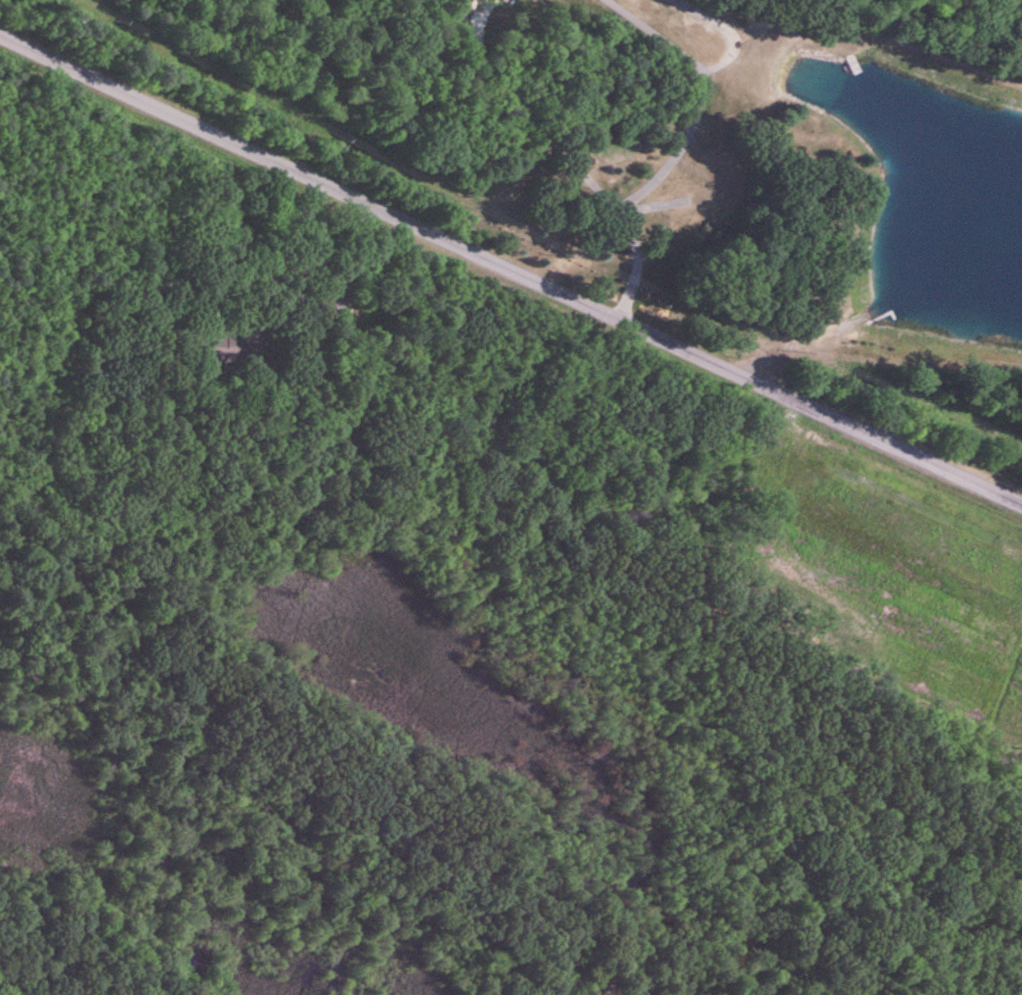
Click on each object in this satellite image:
road: (511, 269)
building: (229, 347)

